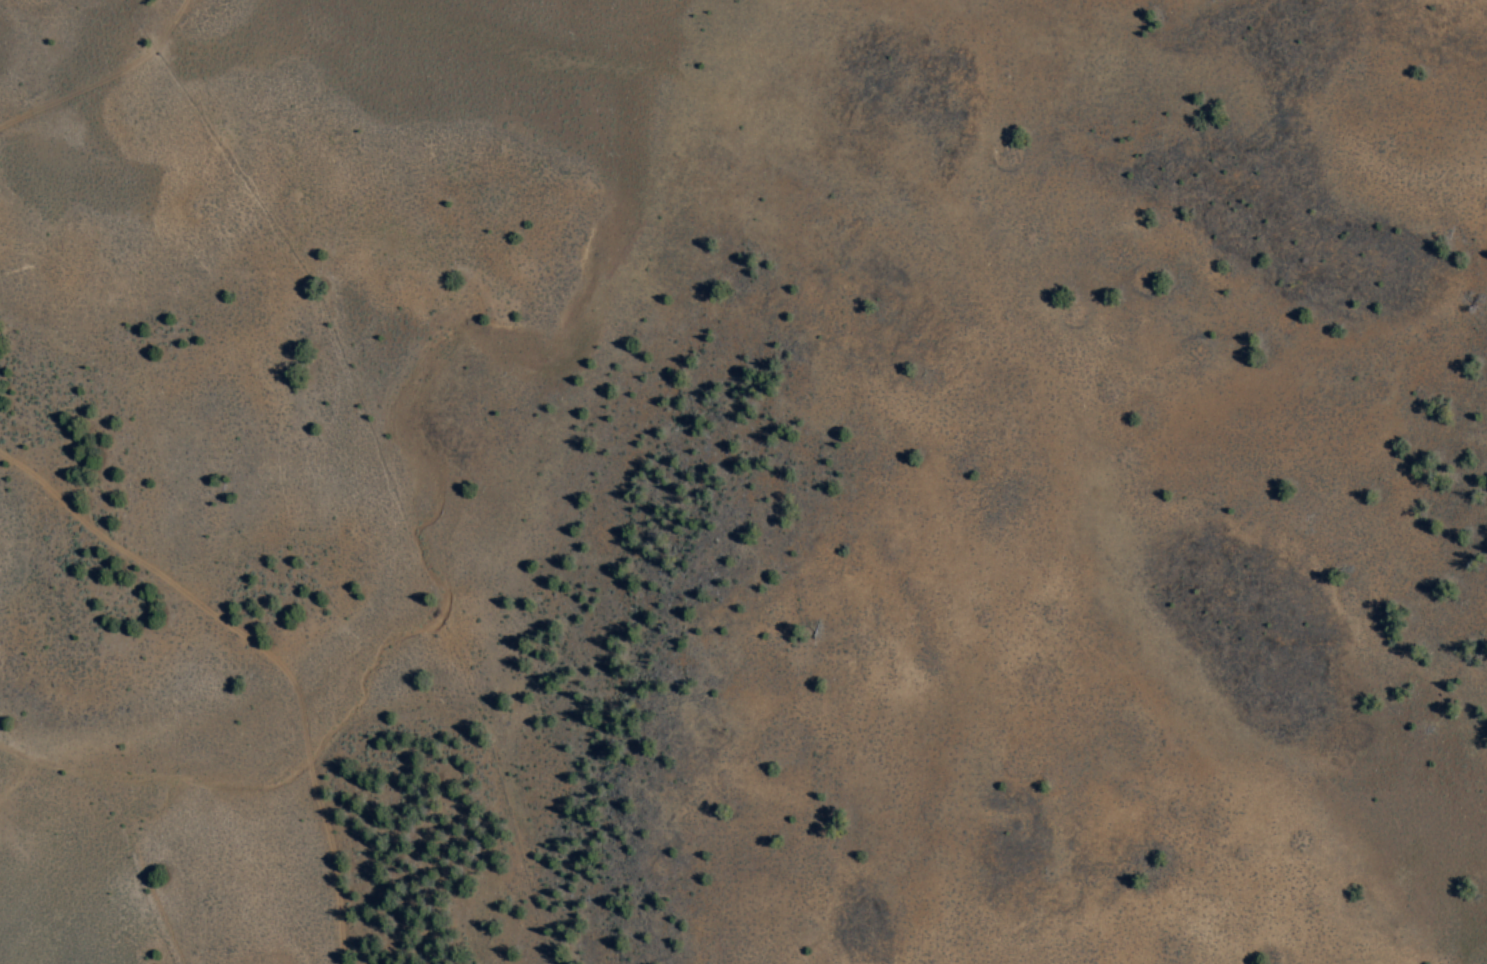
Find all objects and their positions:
road: (108, 80)
road: (264, 651)

